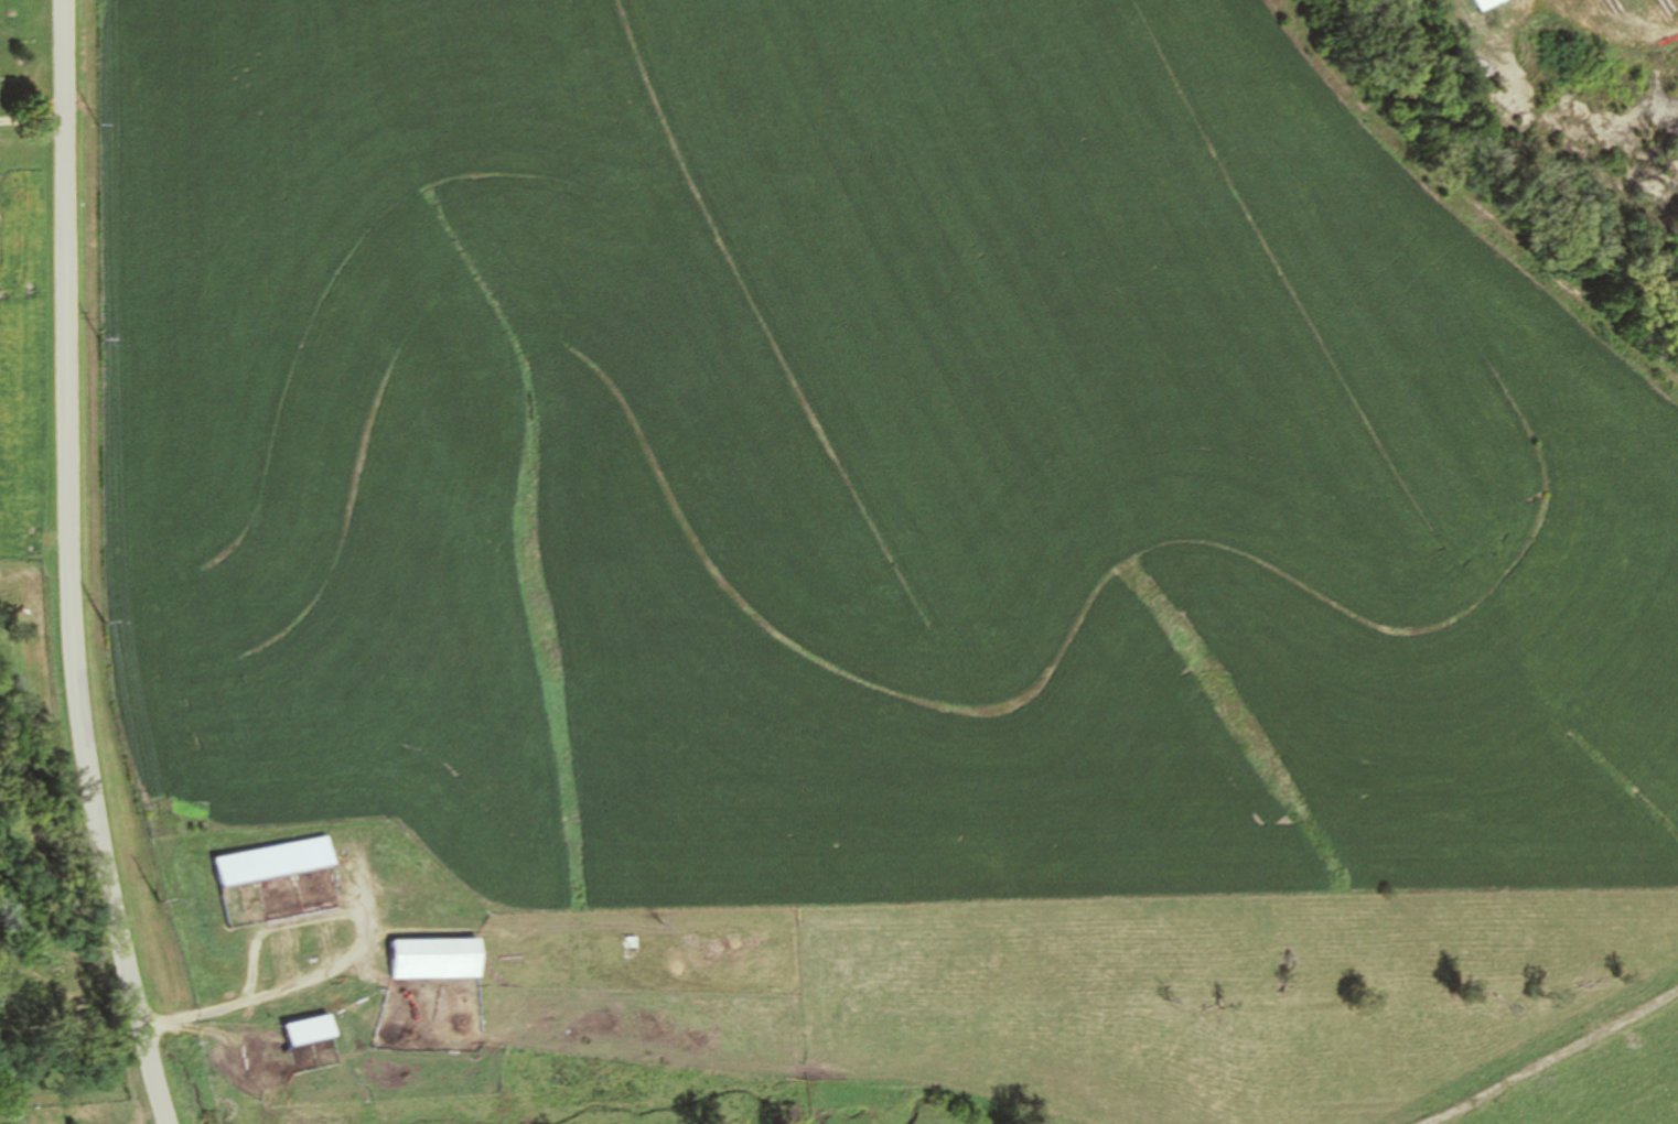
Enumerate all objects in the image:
building: (1482, 2)
road: (71, 566)
building: (426, 894)
building: (439, 959)
building: (312, 1030)

